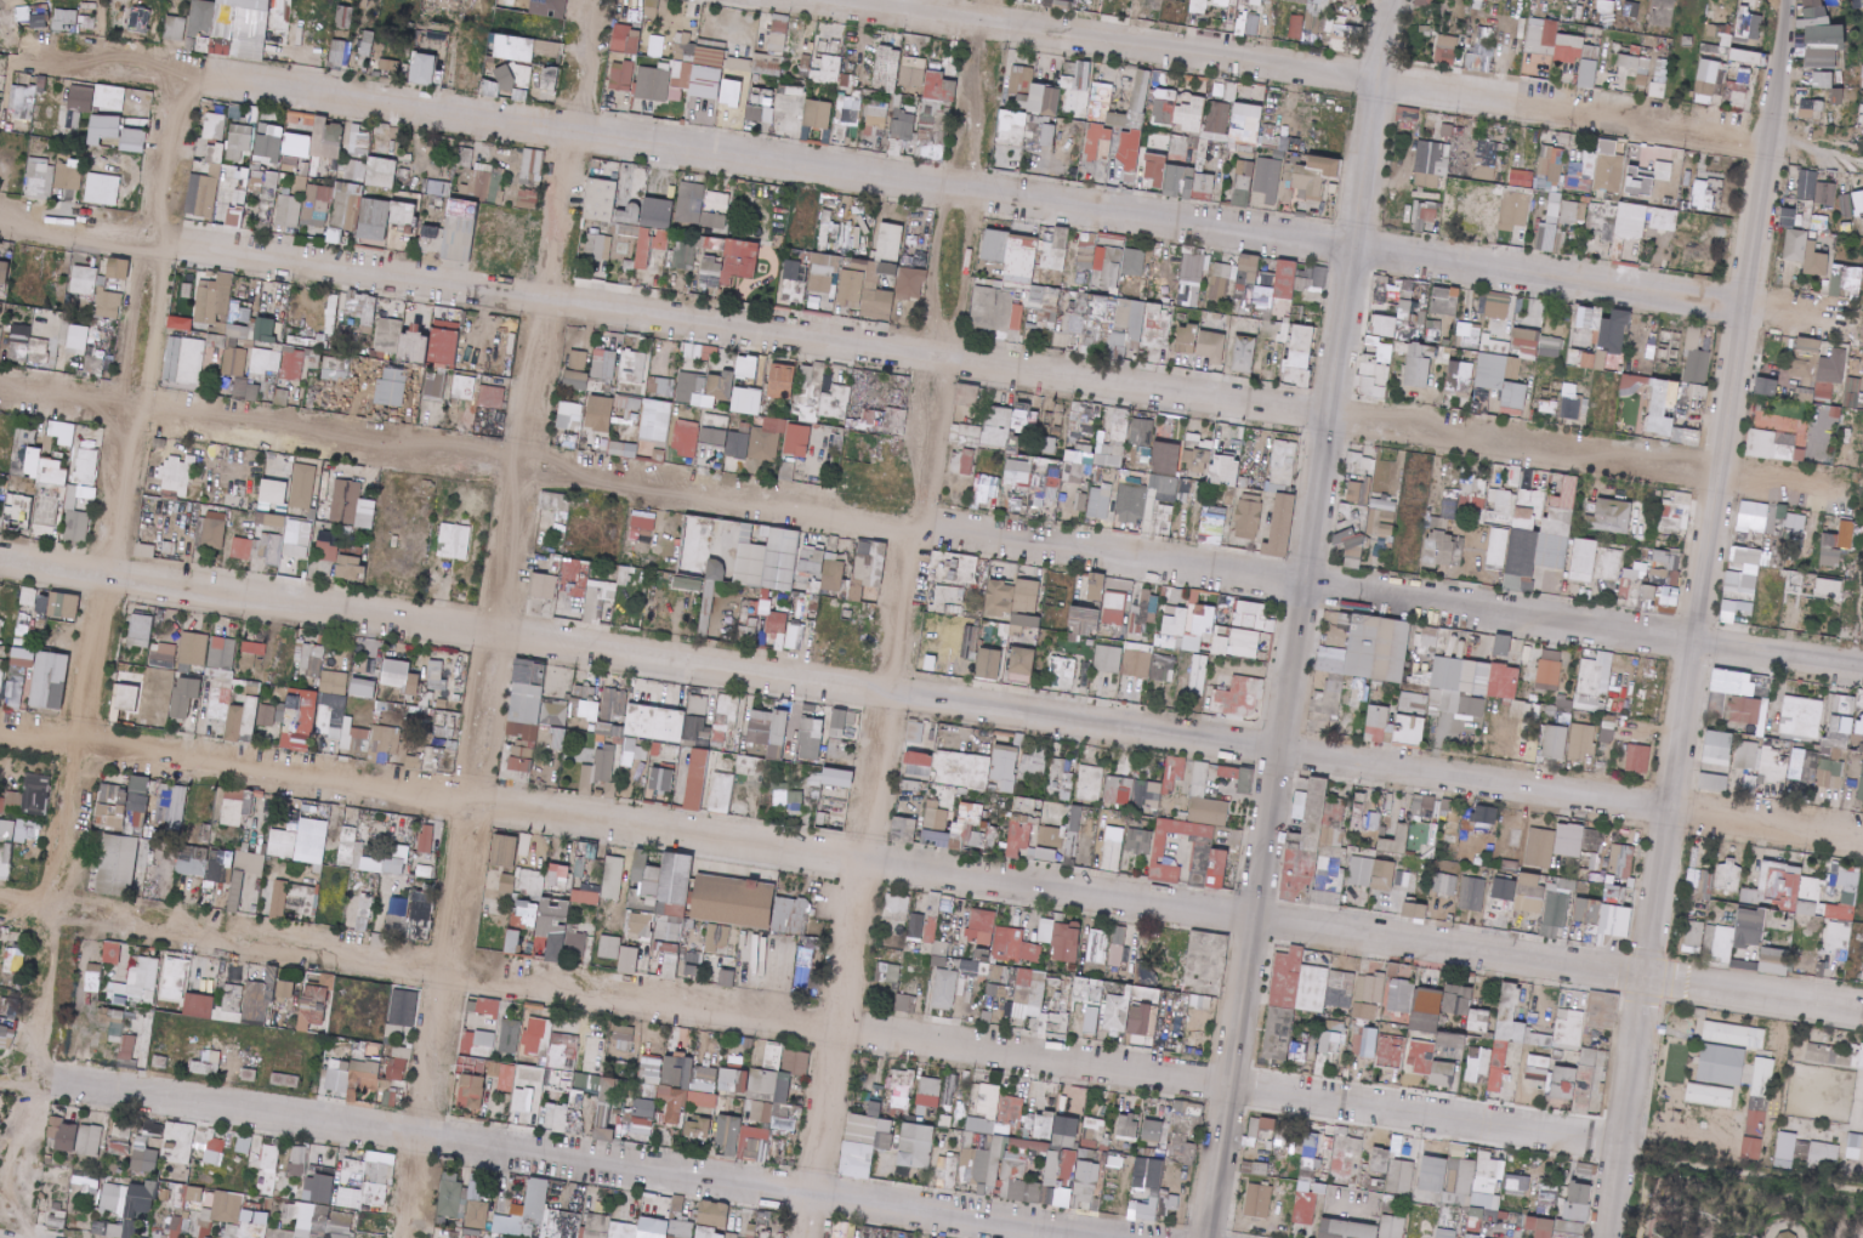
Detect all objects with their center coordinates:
park: (1736, 1208)

